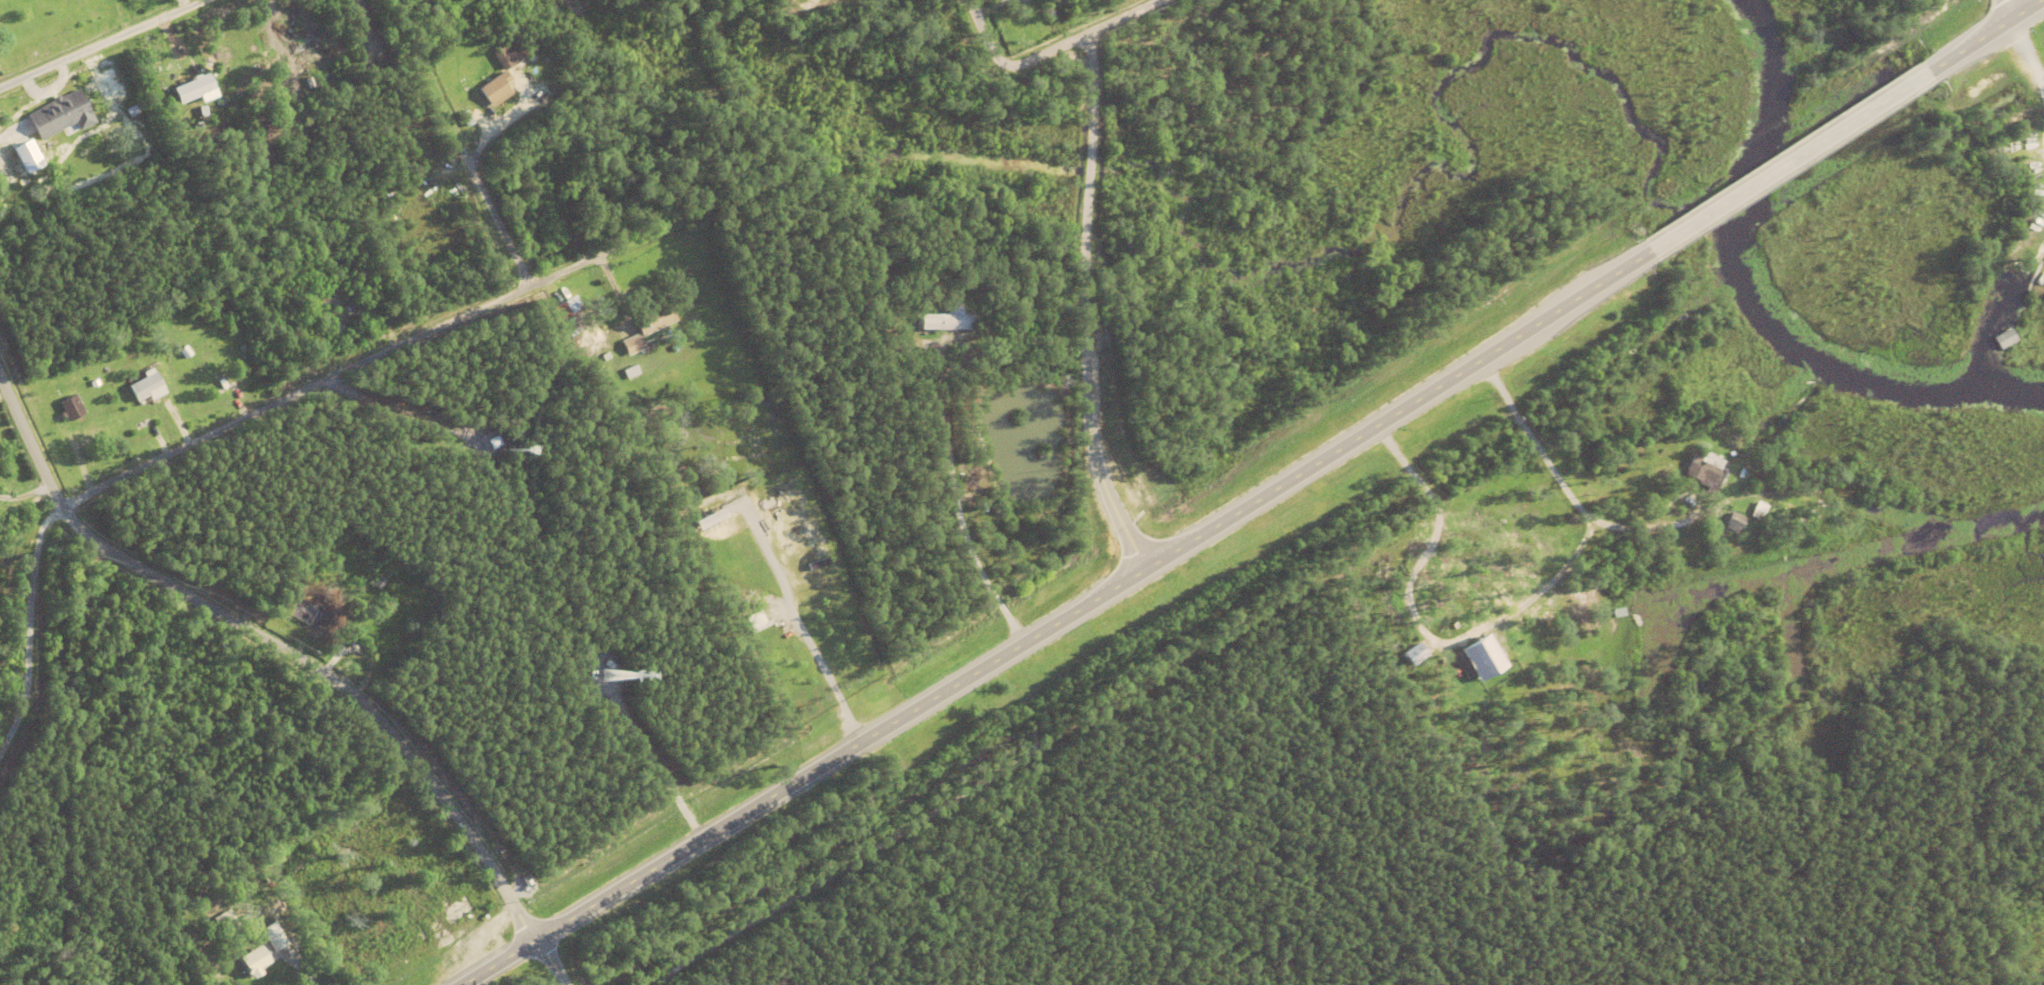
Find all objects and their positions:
building: (992, 1)
road: (819, 2)
building: (873, 9)
road: (2000, 11)
building: (922, 18)
road: (1129, 19)
road: (1983, 37)
road: (108, 44)
building: (929, 44)
building: (506, 54)
road: (1009, 73)
building: (309, 81)
building: (192, 87)
building: (496, 87)
building: (103, 92)
building: (132, 109)
building: (62, 113)
building: (466, 116)
building: (26, 156)
road: (1792, 164)
road: (1930, 216)
road: (453, 224)
building: (356, 286)
building: (335, 298)
building: (317, 303)
river: (1761, 304)
building: (322, 315)
road: (1084, 316)
building: (567, 317)
building: (655, 317)
building: (947, 318)
building: (633, 343)
building: (185, 350)
building: (606, 355)
building: (631, 371)
building: (181, 377)
building: (910, 377)
building: (94, 382)
building: (145, 385)
road: (302, 395)
building: (70, 407)
building: (143, 416)
building: (179, 419)
building: (172, 425)
building: (160, 433)
building: (1706, 470)
building: (1758, 510)
building: (707, 518)
building: (1733, 523)
building: (733, 575)
building: (307, 612)
road: (1061, 614)
building: (763, 624)
building: (330, 631)
road: (273, 644)
building: (1414, 654)
building: (1481, 656)
building: (607, 663)
building: (225, 922)
building: (274, 936)
building: (253, 961)
road: (552, 964)

